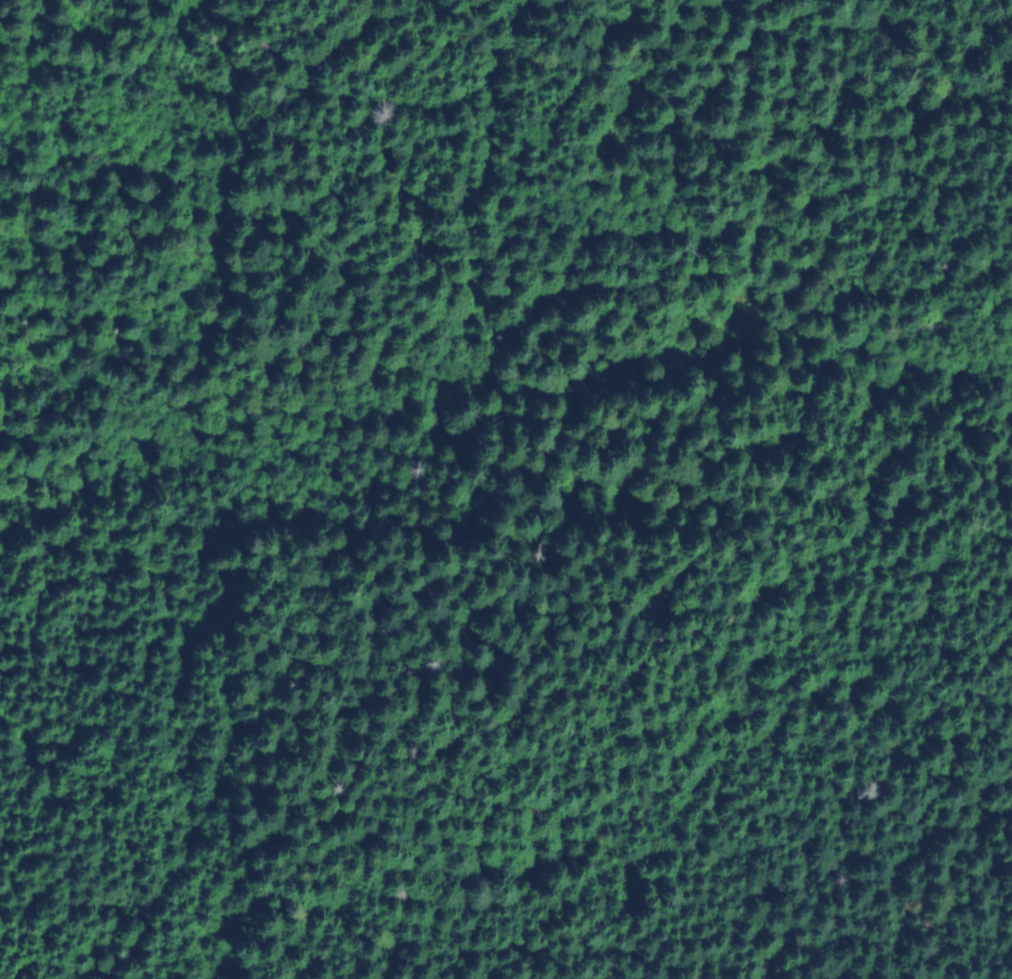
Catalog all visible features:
road: (728, 602)

